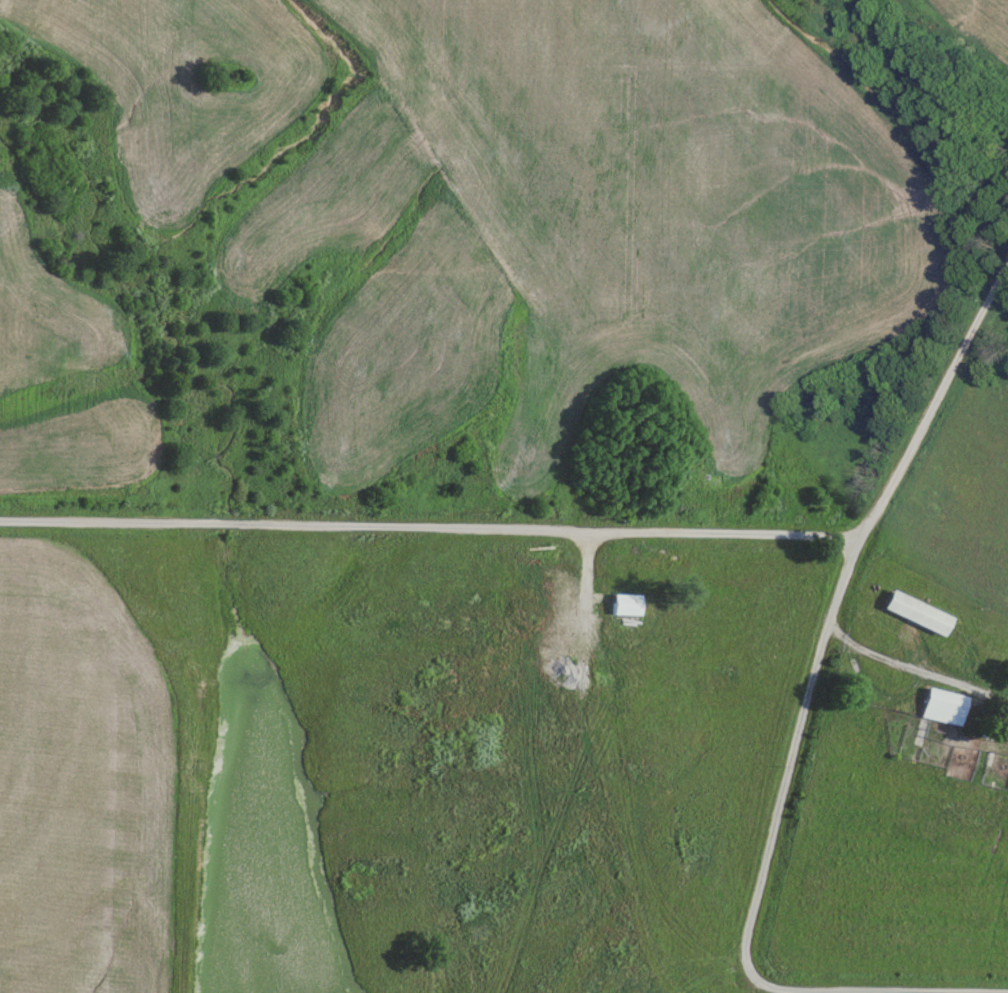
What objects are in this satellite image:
building: (634, 399)
road: (429, 531)
building: (628, 600)
building: (529, 613)
building: (915, 613)
road: (825, 624)
road: (911, 675)
road: (870, 695)
building: (942, 707)
building: (543, 764)

